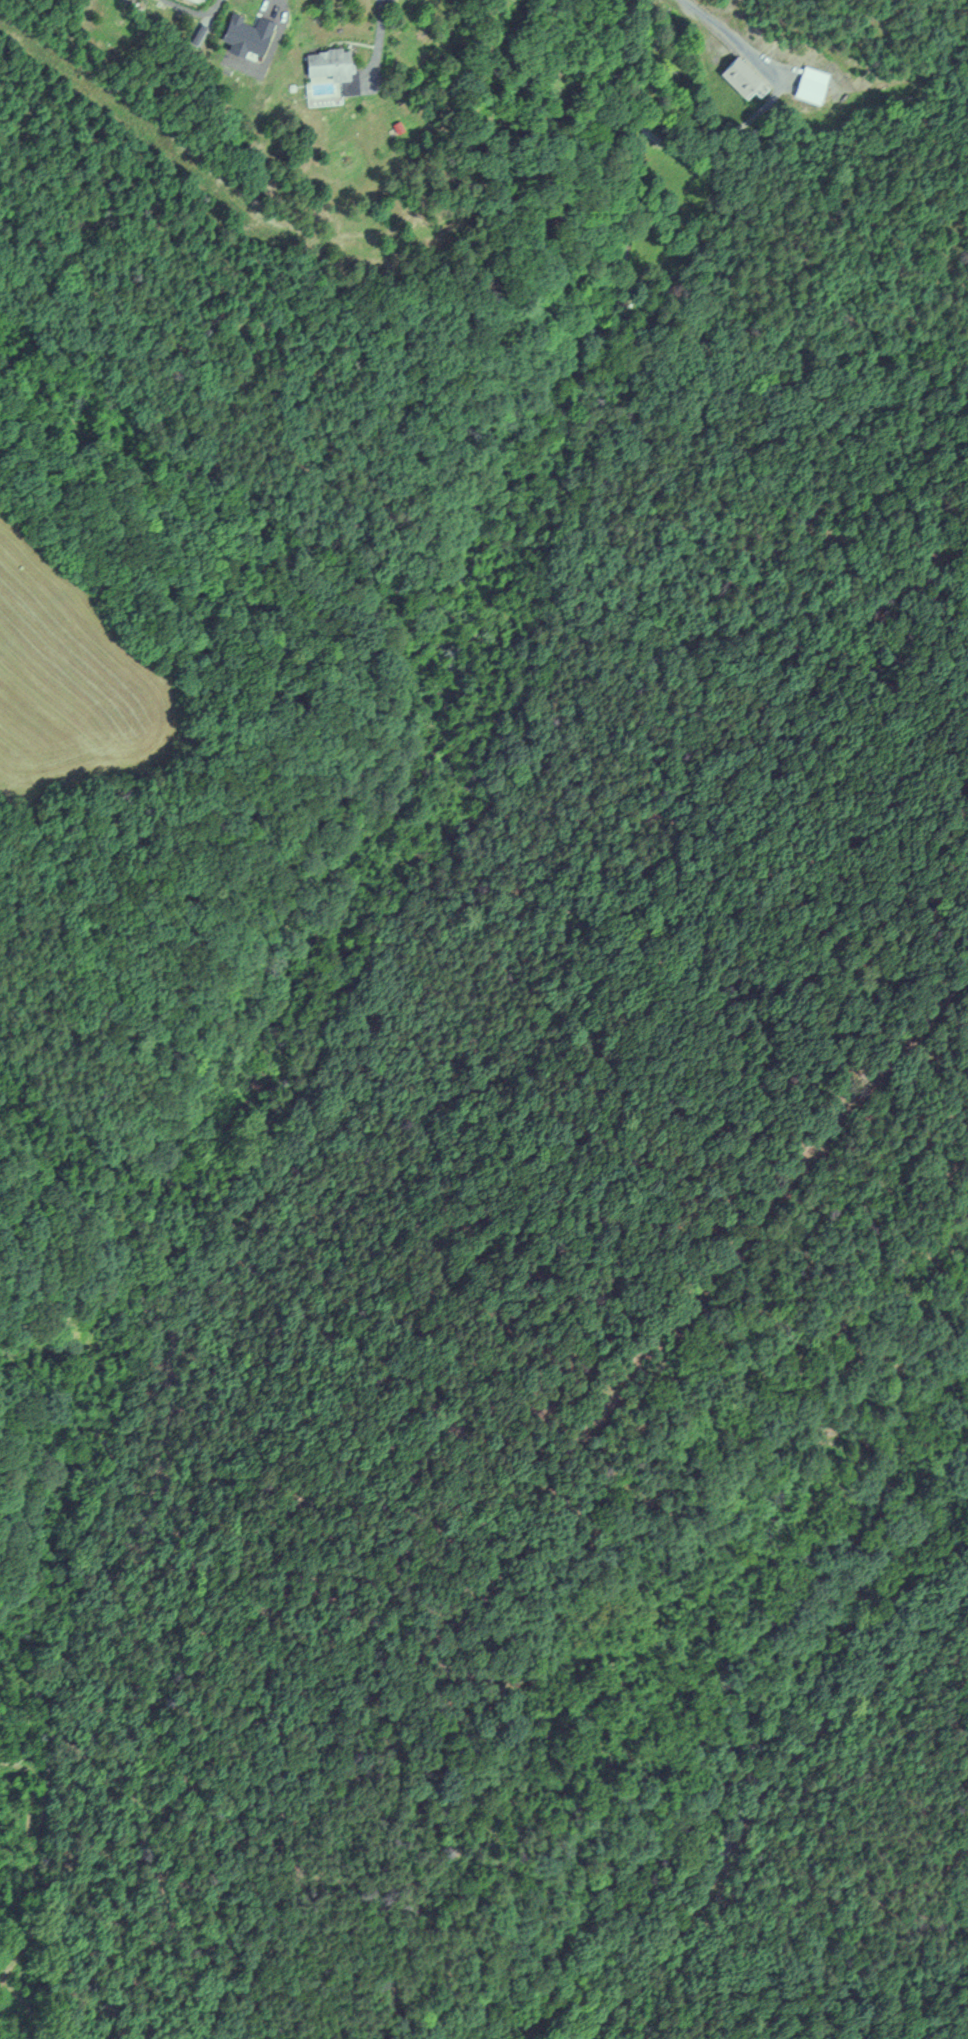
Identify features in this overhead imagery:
road: (737, 38)
road: (376, 45)
building: (328, 67)
building: (739, 75)
building: (808, 89)
road: (661, 141)
road: (933, 1673)
road: (767, 1779)

